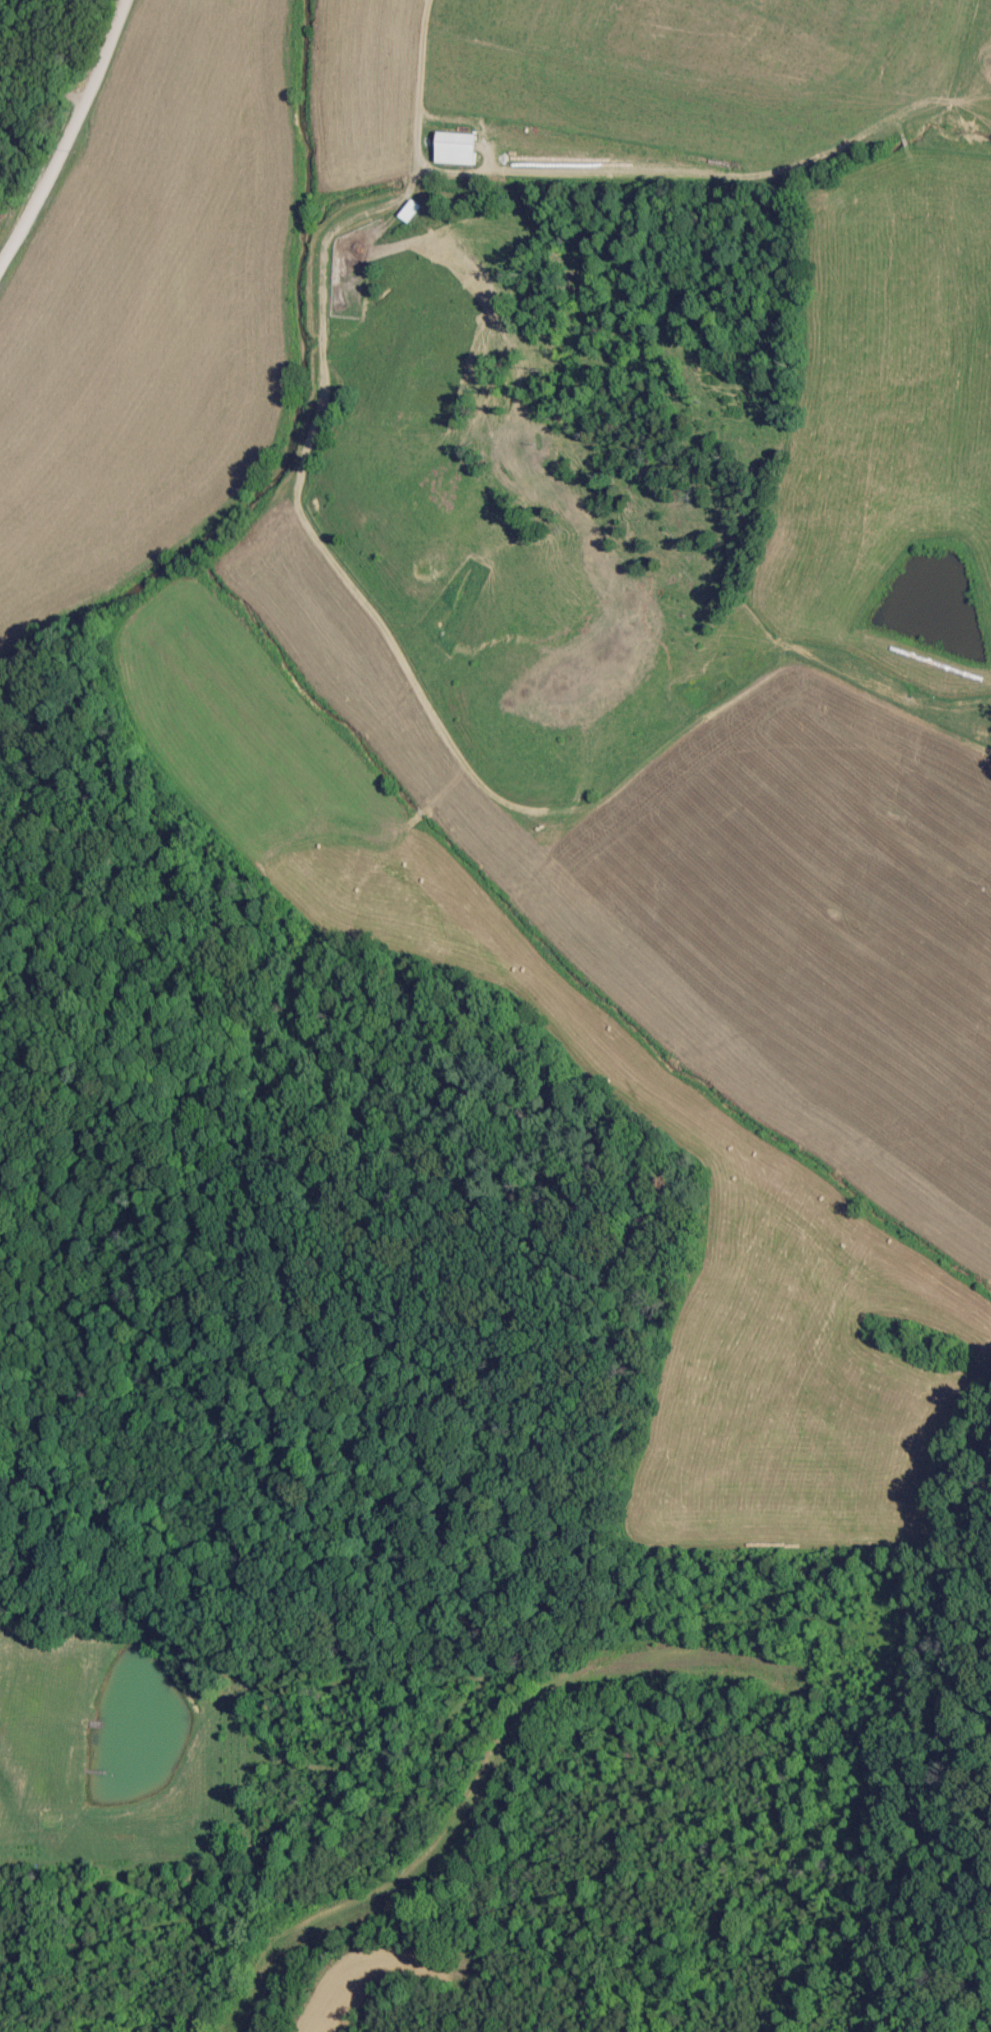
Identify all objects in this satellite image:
road: (68, 133)
building: (454, 147)

